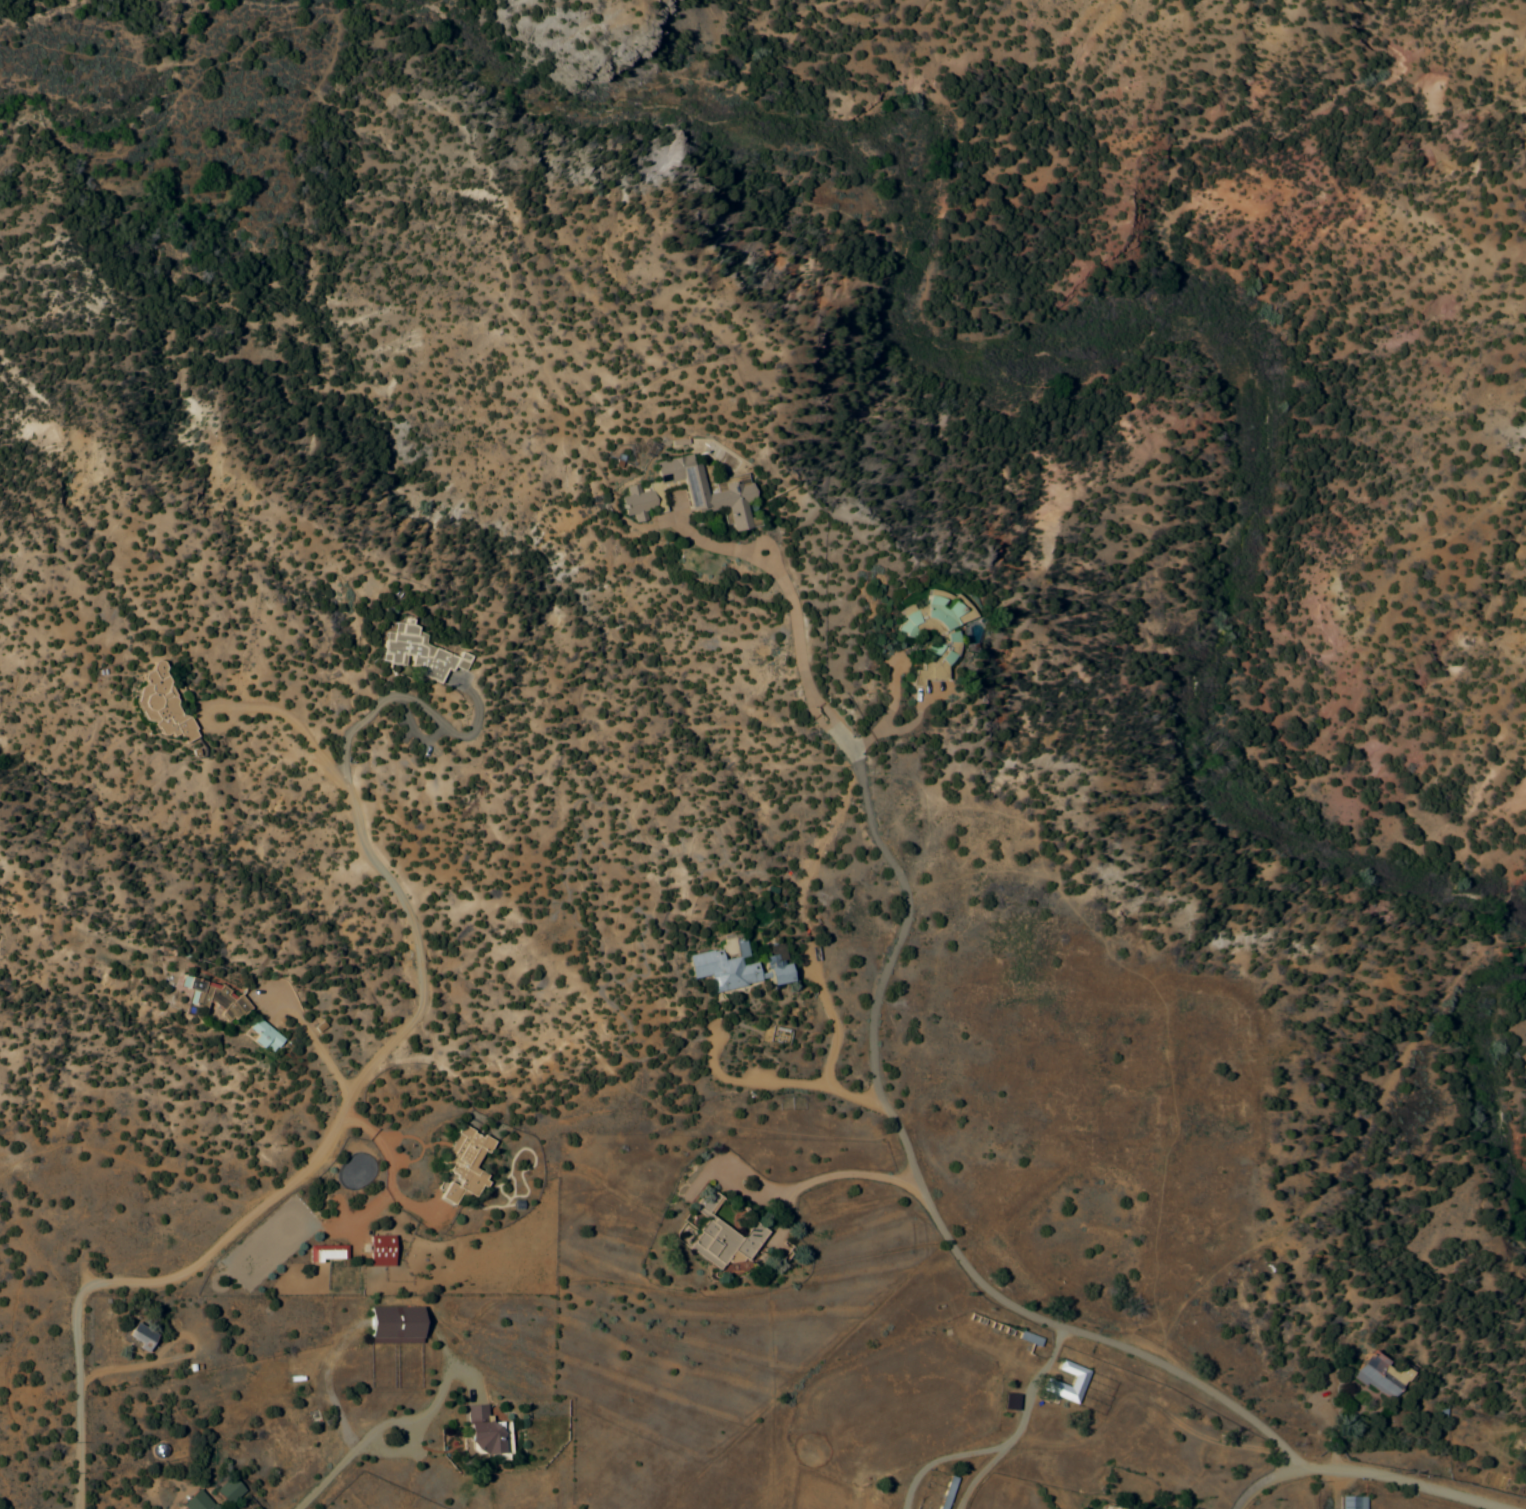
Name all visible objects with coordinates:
building: (732, 492)
building: (635, 502)
building: (946, 611)
building: (420, 652)
building: (931, 670)
building: (779, 1034)
building: (263, 1035)
road: (329, 1054)
building: (462, 1164)
building: (720, 1234)
building: (378, 1249)
building: (326, 1252)
road: (210, 1253)
building: (393, 1324)
road: (1066, 1328)
building: (139, 1334)
building: (1029, 1337)
building: (1378, 1374)
building: (1049, 1381)
building: (485, 1433)
road: (322, 1476)
road: (1265, 1480)
building: (227, 1490)
building: (946, 1492)
building: (196, 1501)
building: (1351, 1502)
building: (1108, 1508)

